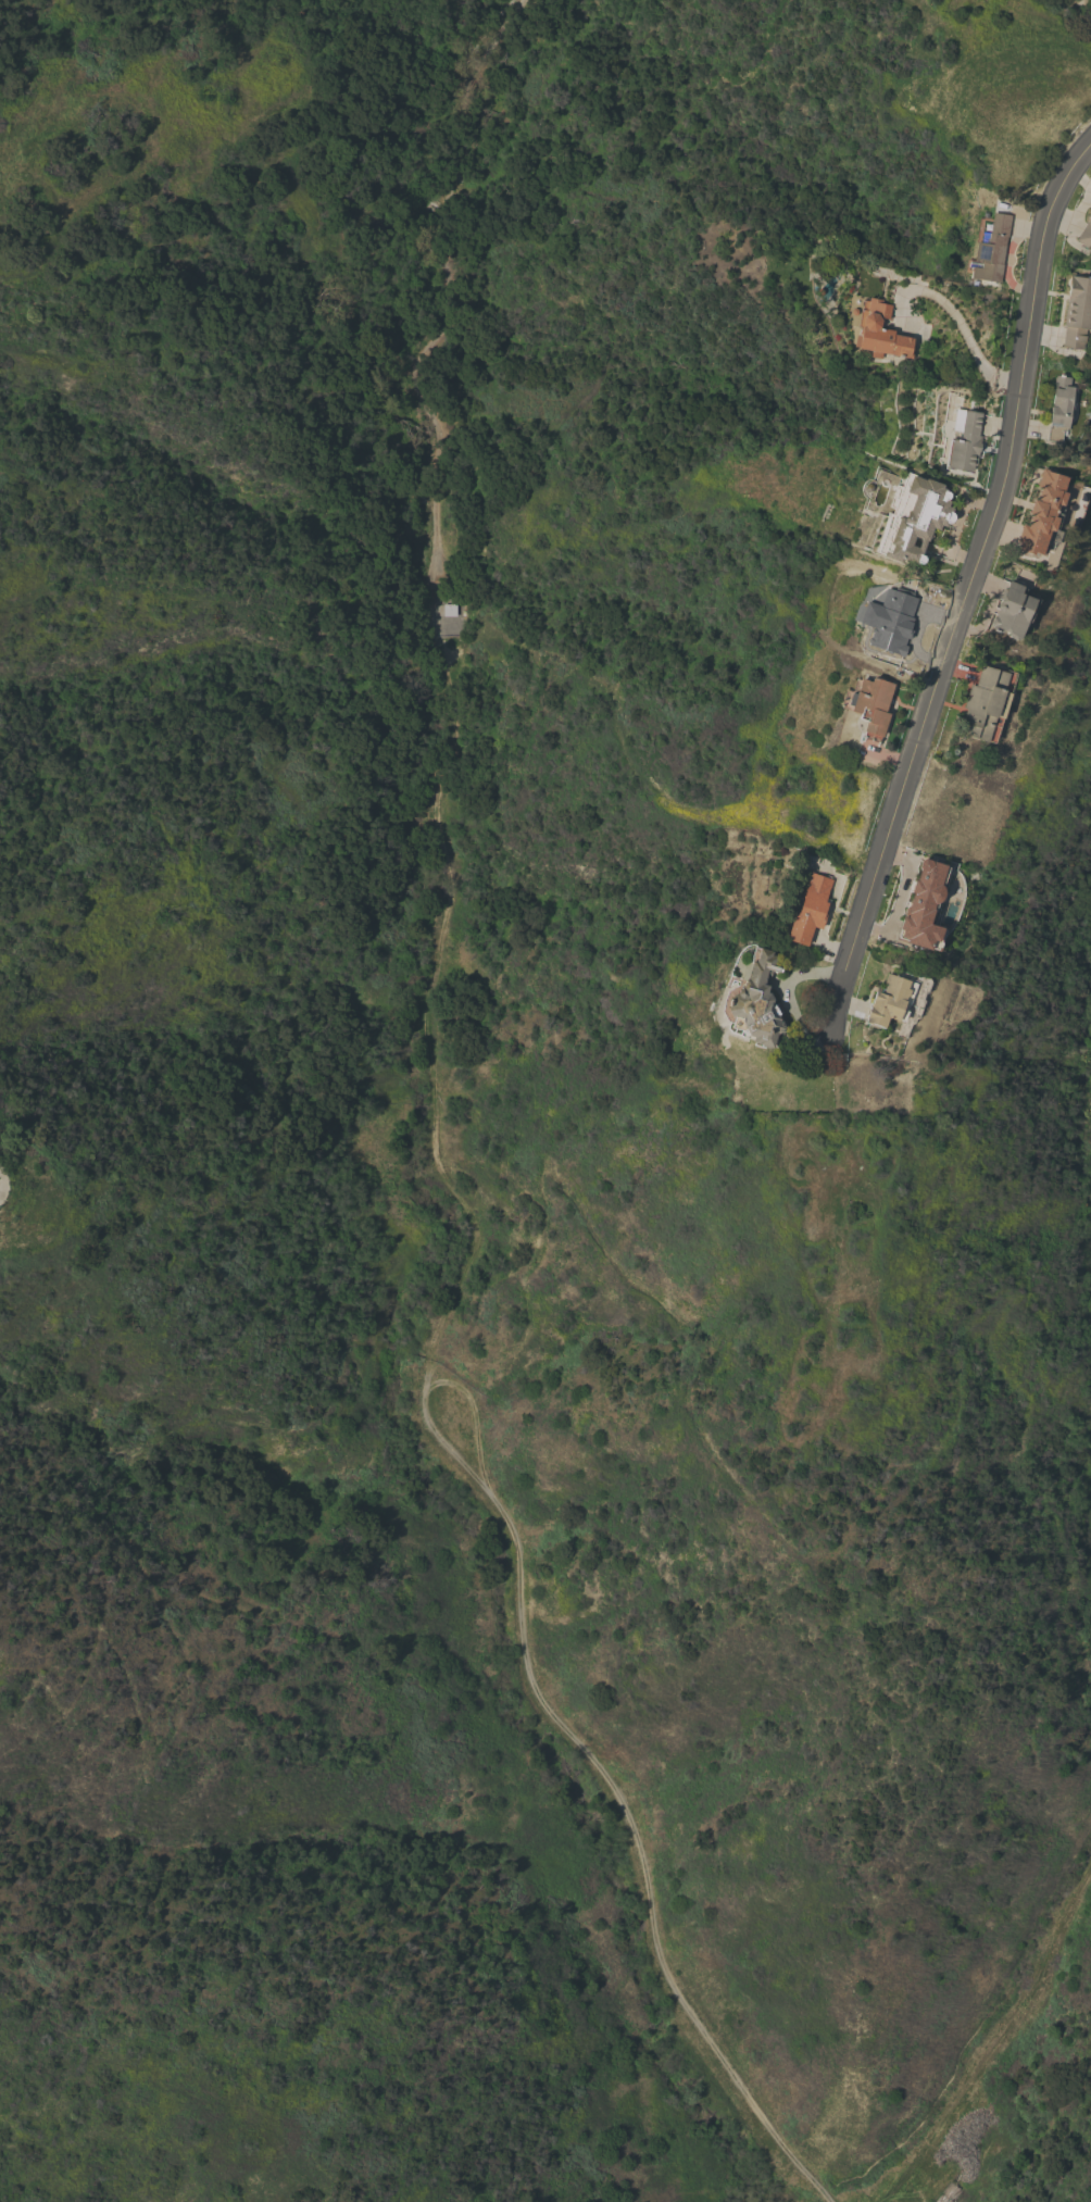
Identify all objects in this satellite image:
building: (1086, 232)
building: (991, 249)
building: (1076, 312)
road: (956, 320)
building: (879, 331)
building: (1059, 408)
building: (964, 440)
building: (1043, 514)
building: (916, 520)
road: (969, 590)
building: (450, 609)
building: (1013, 610)
building: (889, 620)
building: (986, 702)
building: (871, 705)
building: (937, 778)
building: (926, 904)
building: (810, 909)
building: (753, 997)
building: (890, 1001)

